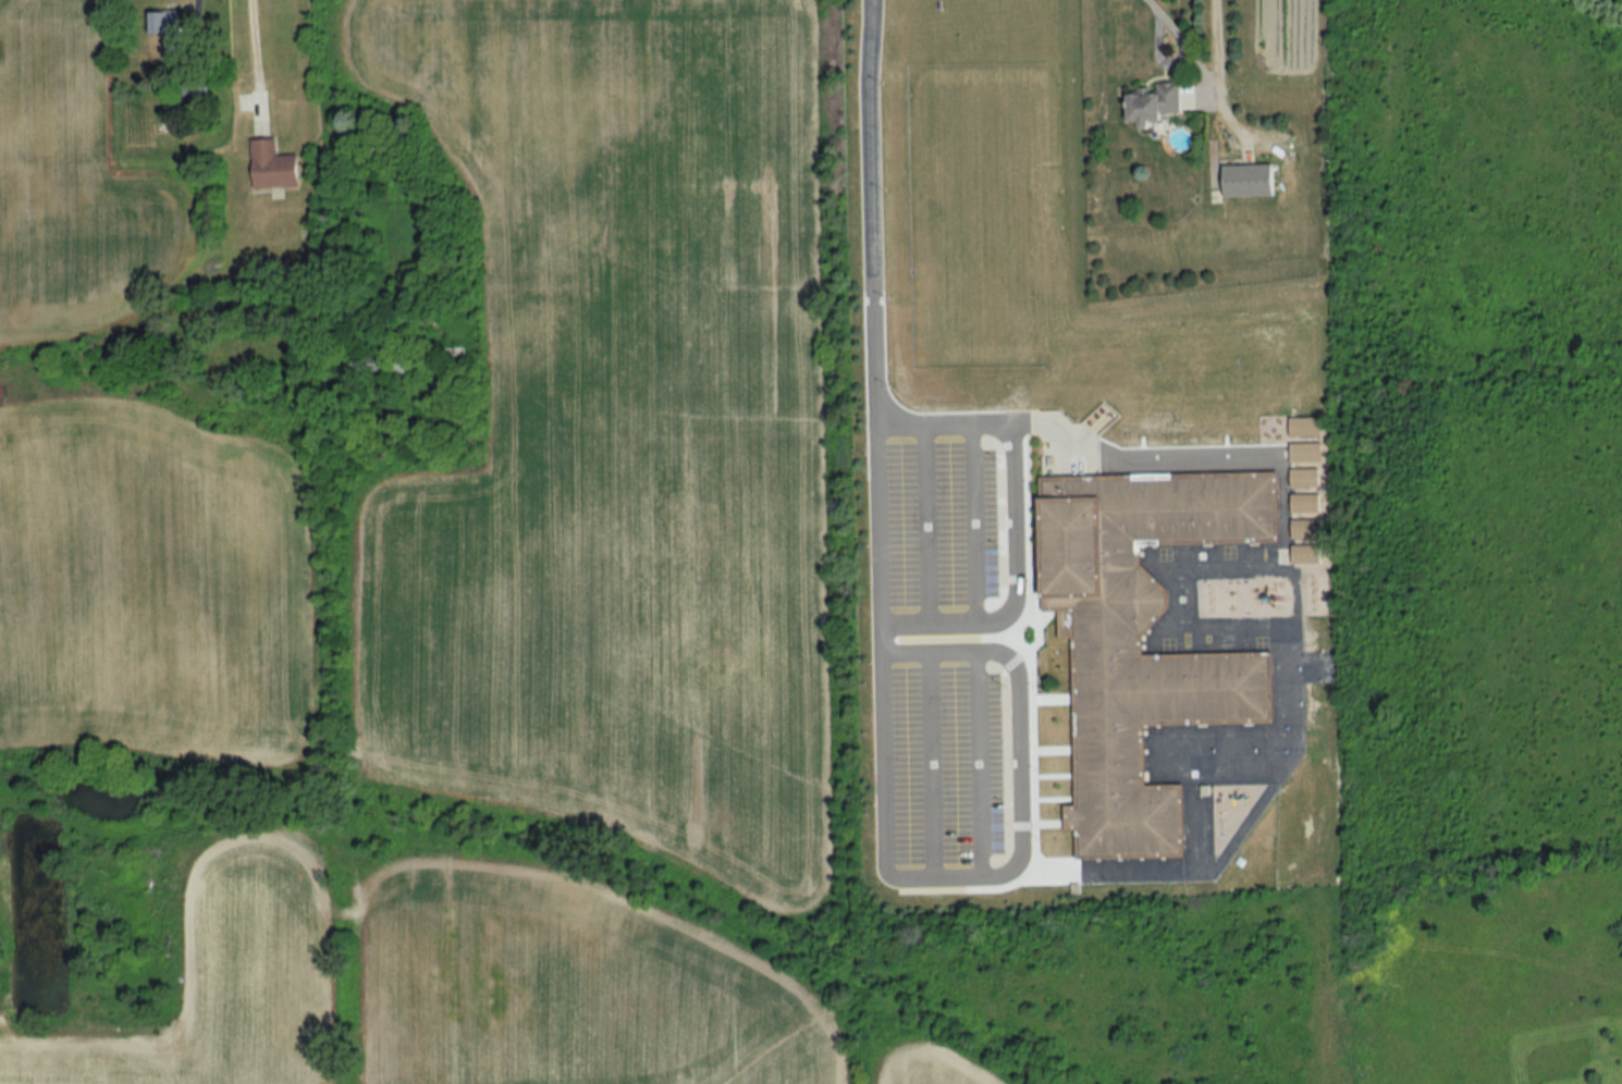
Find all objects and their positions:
building: (164, 26)
road: (257, 57)
road: (1207, 73)
building: (1153, 101)
building: (271, 164)
building: (1246, 178)
road: (872, 327)
road: (981, 424)
building: (1303, 426)
crop: (618, 434)
building: (1304, 451)
building: (1303, 477)
building: (1303, 502)
parking lot: (944, 521)
road: (923, 523)
road: (973, 523)
building: (1304, 527)
building: (1304, 553)
crop: (152, 584)
road: (1016, 587)
building: (1140, 638)
parking lot: (947, 762)
road: (976, 763)
road: (929, 765)
road: (1011, 869)
crop: (223, 980)
crop: (569, 986)
crop: (927, 1064)

